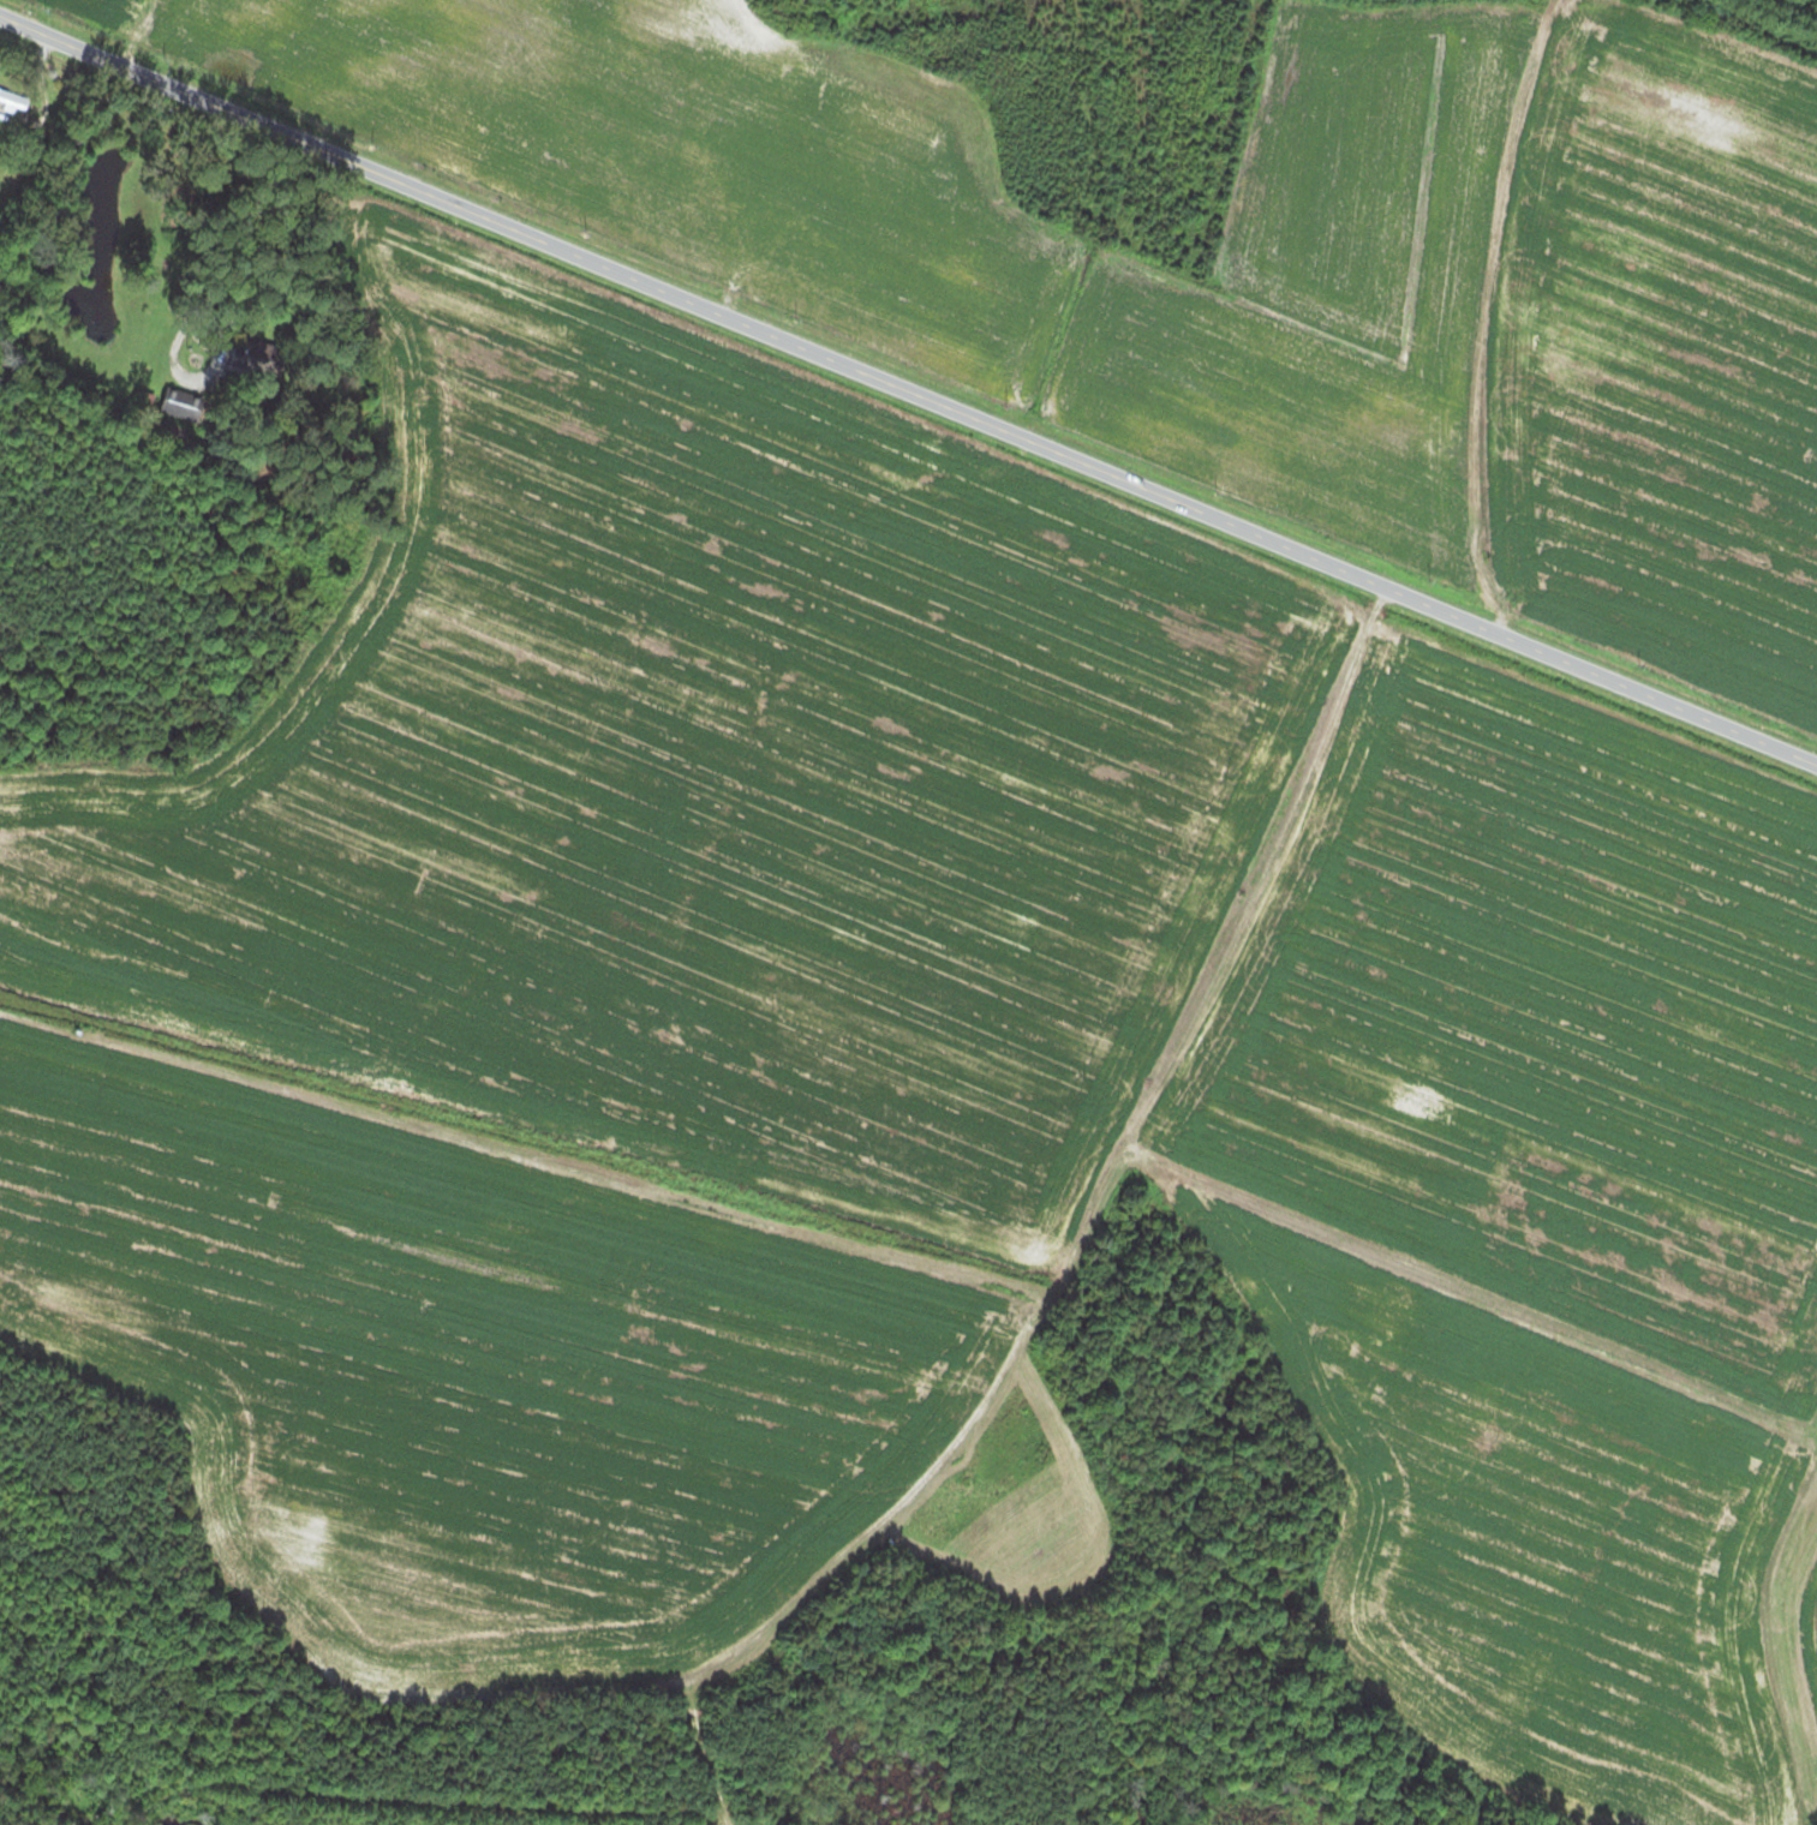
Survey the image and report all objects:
building: (240, 353)
road: (908, 390)
building: (136, 403)

